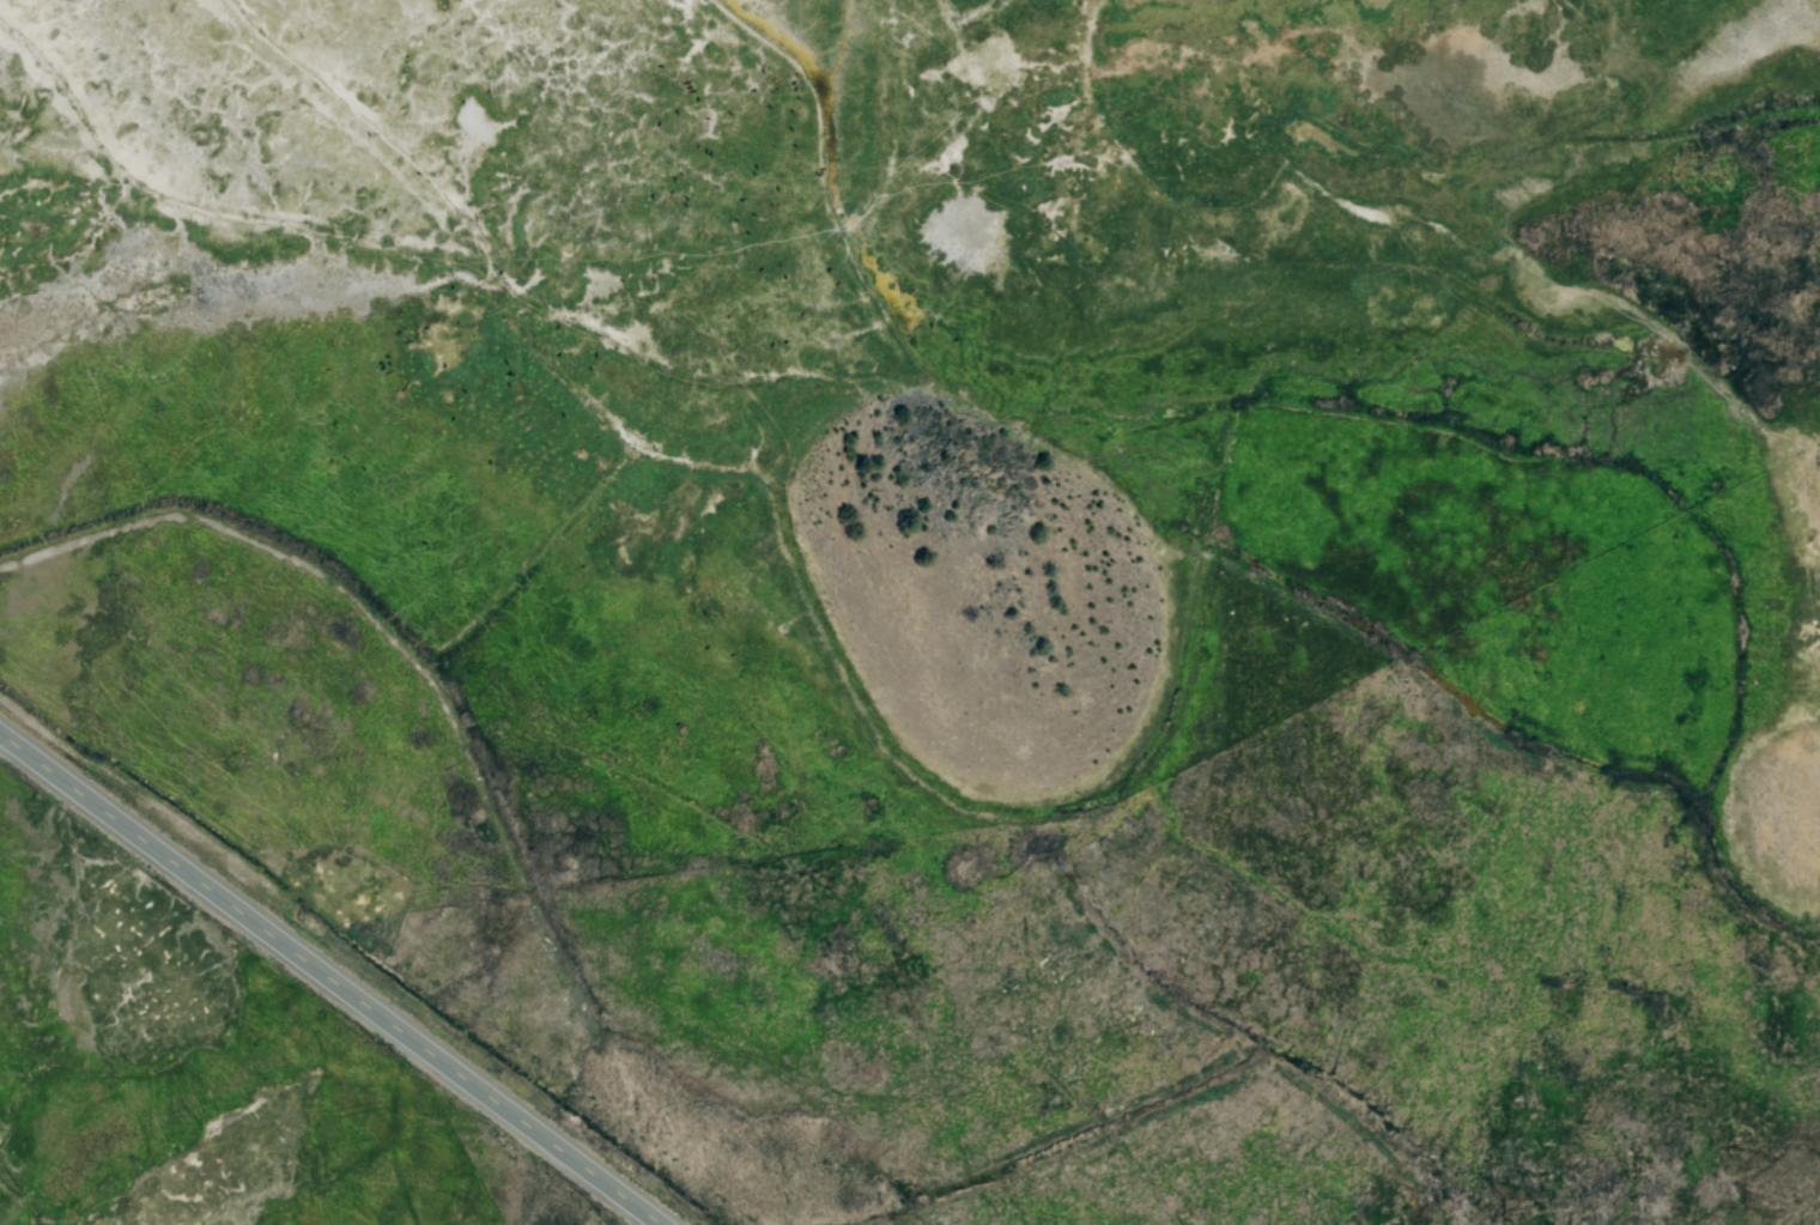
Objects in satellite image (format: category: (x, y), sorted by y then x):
road: (333, 978)

